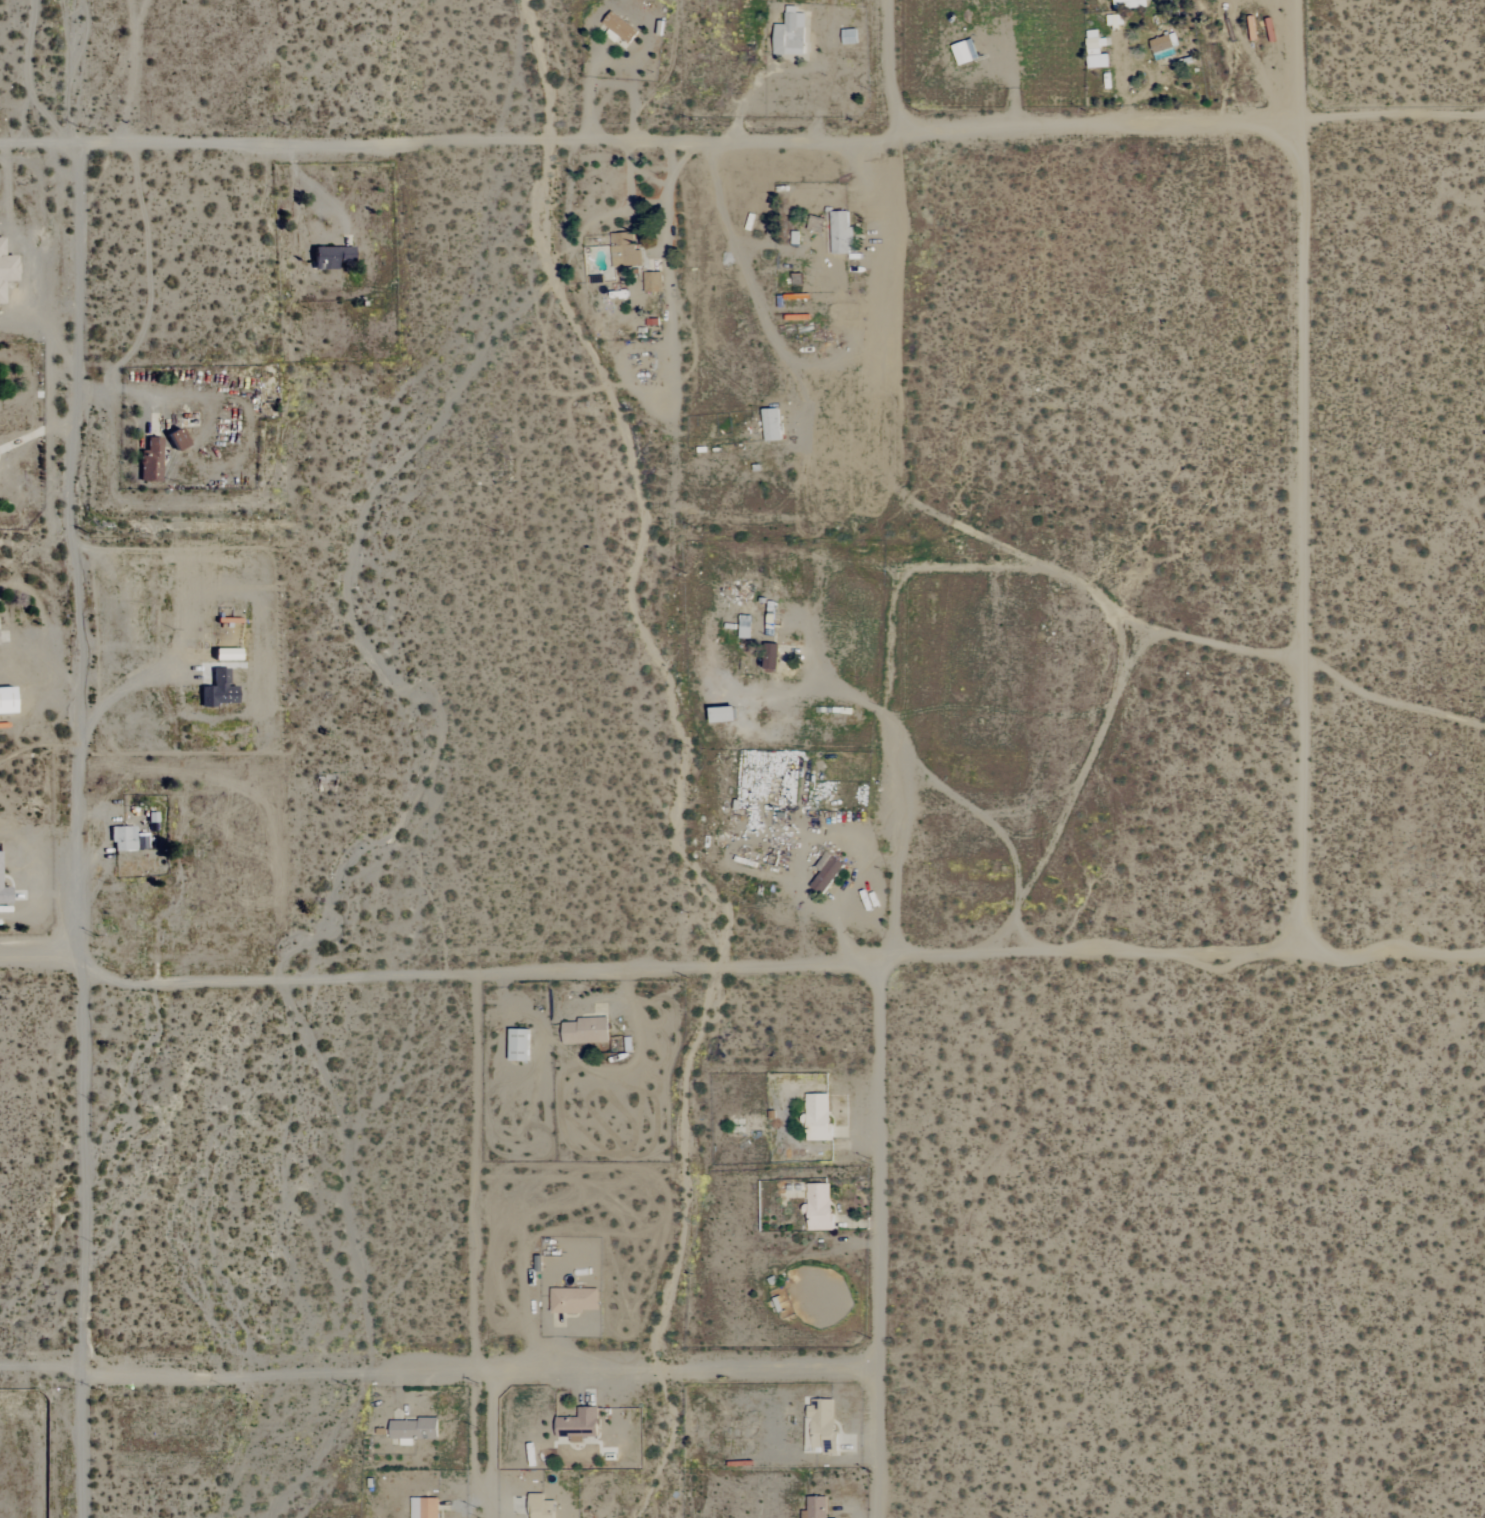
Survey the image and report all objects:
building: (1131, 4)
building: (619, 27)
building: (789, 37)
building: (1163, 46)
building: (1096, 51)
building: (965, 52)
road: (608, 64)
road: (889, 68)
road: (829, 70)
road: (760, 76)
road: (742, 139)
road: (313, 187)
building: (841, 233)
building: (625, 251)
building: (331, 257)
building: (6, 271)
building: (652, 282)
road: (121, 388)
building: (771, 424)
road: (35, 432)
building: (176, 438)
building: (151, 460)
road: (1301, 543)
building: (226, 654)
building: (771, 656)
road: (827, 688)
road: (121, 690)
building: (219, 690)
building: (6, 700)
road: (78, 758)
road: (900, 832)
building: (122, 838)
building: (826, 872)
building: (4, 895)
road: (742, 967)
building: (586, 1031)
building: (519, 1045)
building: (818, 1117)
road: (475, 1169)
building: (819, 1207)
road: (879, 1241)
building: (573, 1300)
road: (480, 1366)
road: (43, 1370)
building: (822, 1420)
building: (579, 1425)
building: (414, 1429)
road: (494, 1442)
building: (543, 1507)
building: (425, 1508)
building: (816, 1508)

